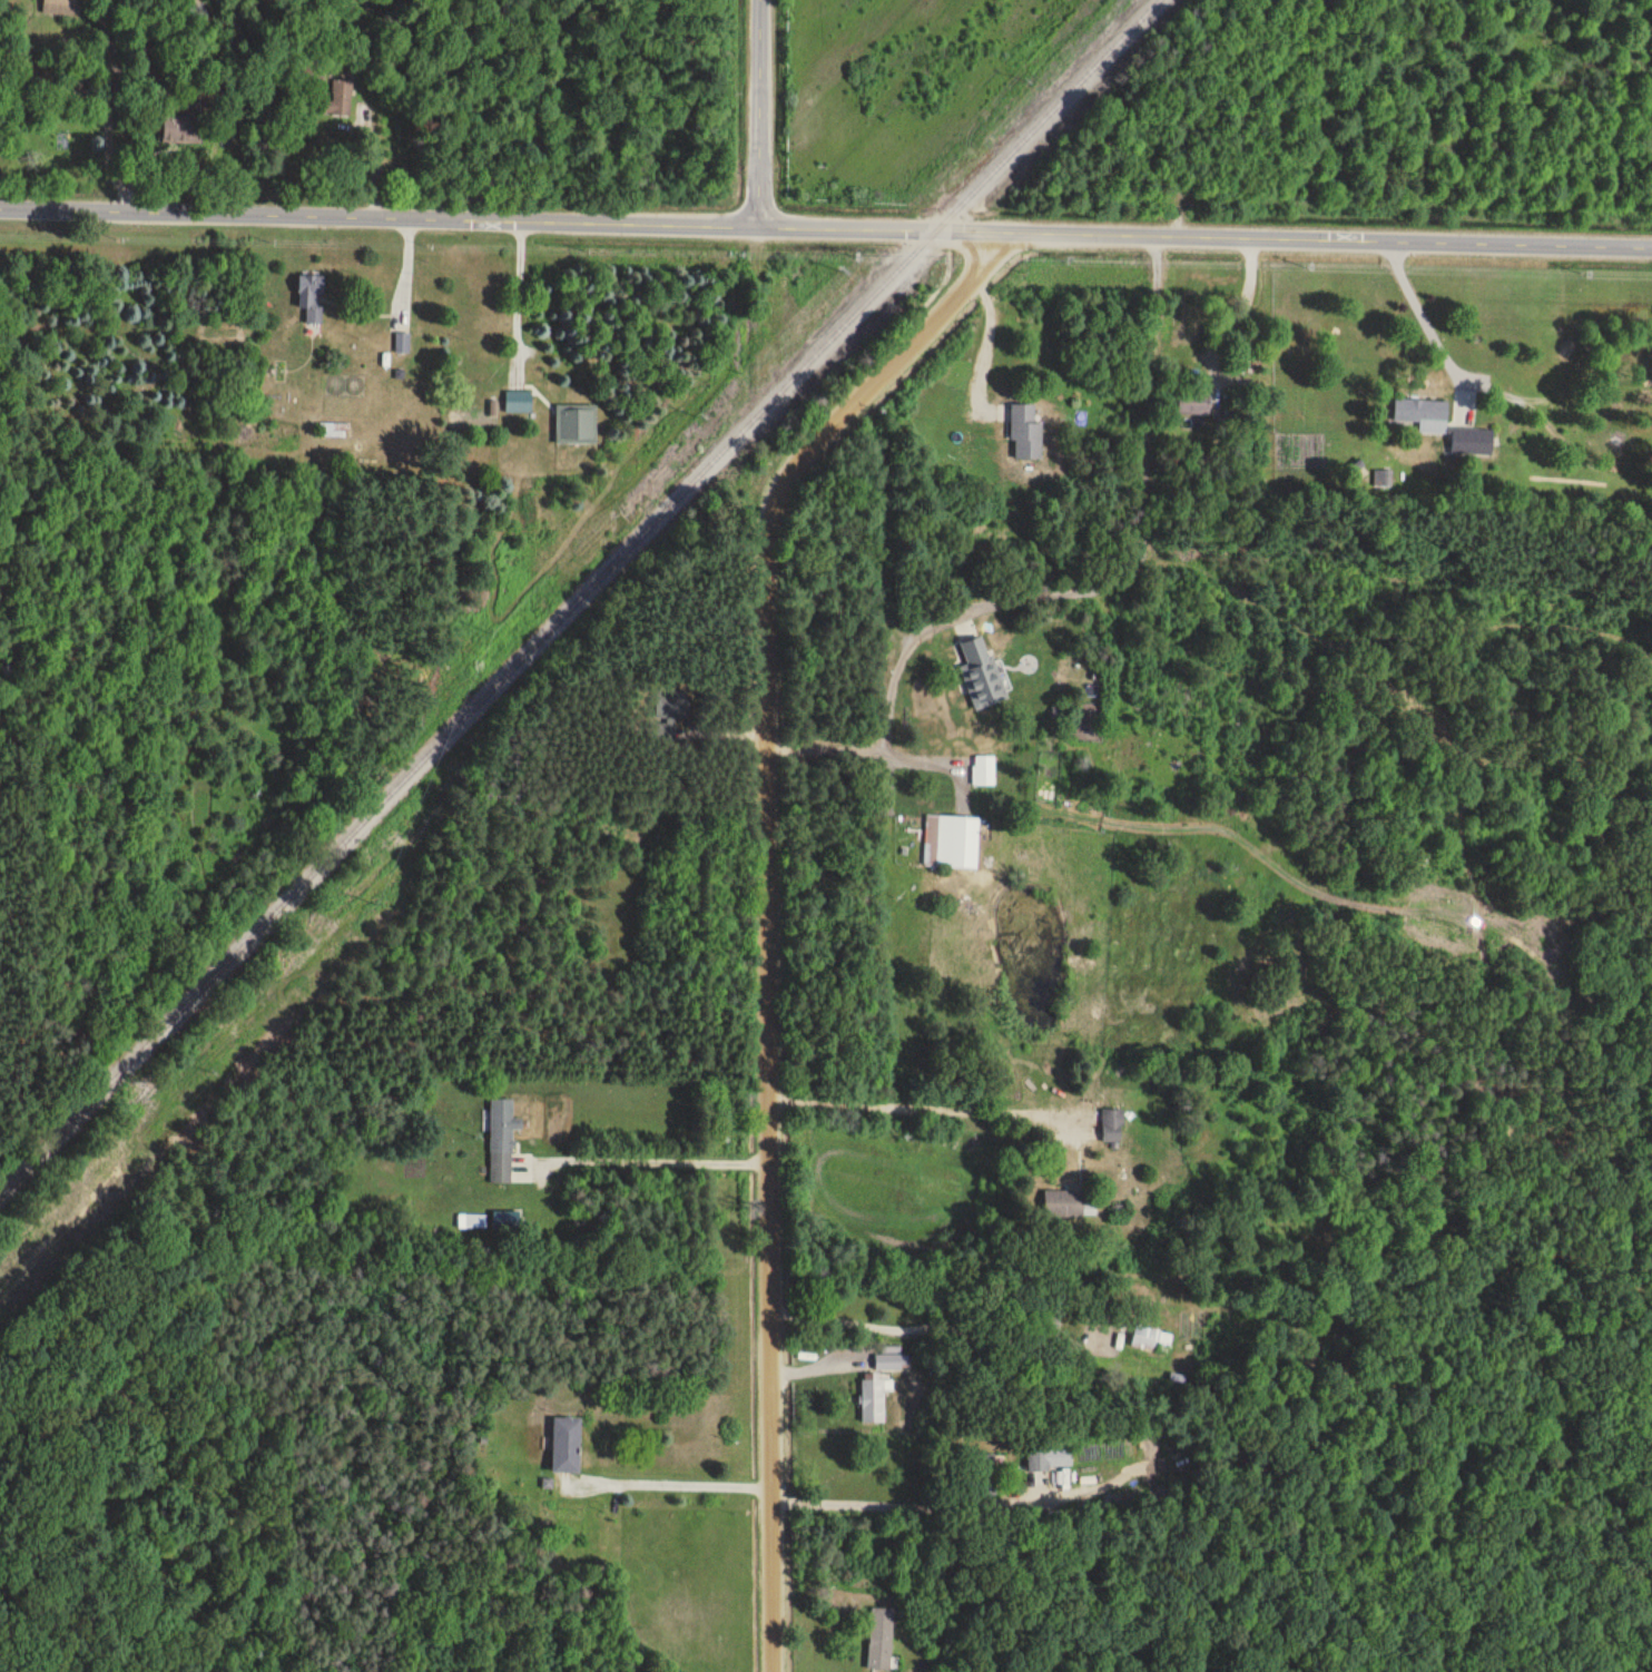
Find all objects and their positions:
building: (340, 98)
road: (760, 112)
building: (183, 127)
road: (376, 165)
road: (825, 226)
road: (519, 294)
building: (312, 297)
road: (1420, 307)
road: (1237, 315)
road: (983, 334)
building: (520, 401)
building: (1194, 403)
building: (468, 419)
building: (577, 423)
building: (1445, 425)
building: (335, 430)
building: (1026, 432)
road: (1071, 592)
railway: (579, 598)
building: (982, 672)
building: (673, 704)
road: (932, 759)
building: (984, 769)
building: (952, 840)
road: (757, 897)
road: (915, 1091)
building: (1113, 1124)
building: (503, 1139)
building: (971, 1141)
road: (646, 1159)
building: (1065, 1203)
building: (475, 1221)
road: (924, 1319)
building: (1150, 1338)
building: (889, 1361)
building: (874, 1399)
building: (567, 1445)
building: (1039, 1457)
building: (982, 1474)
road: (667, 1483)
road: (875, 1503)
building: (882, 1637)

